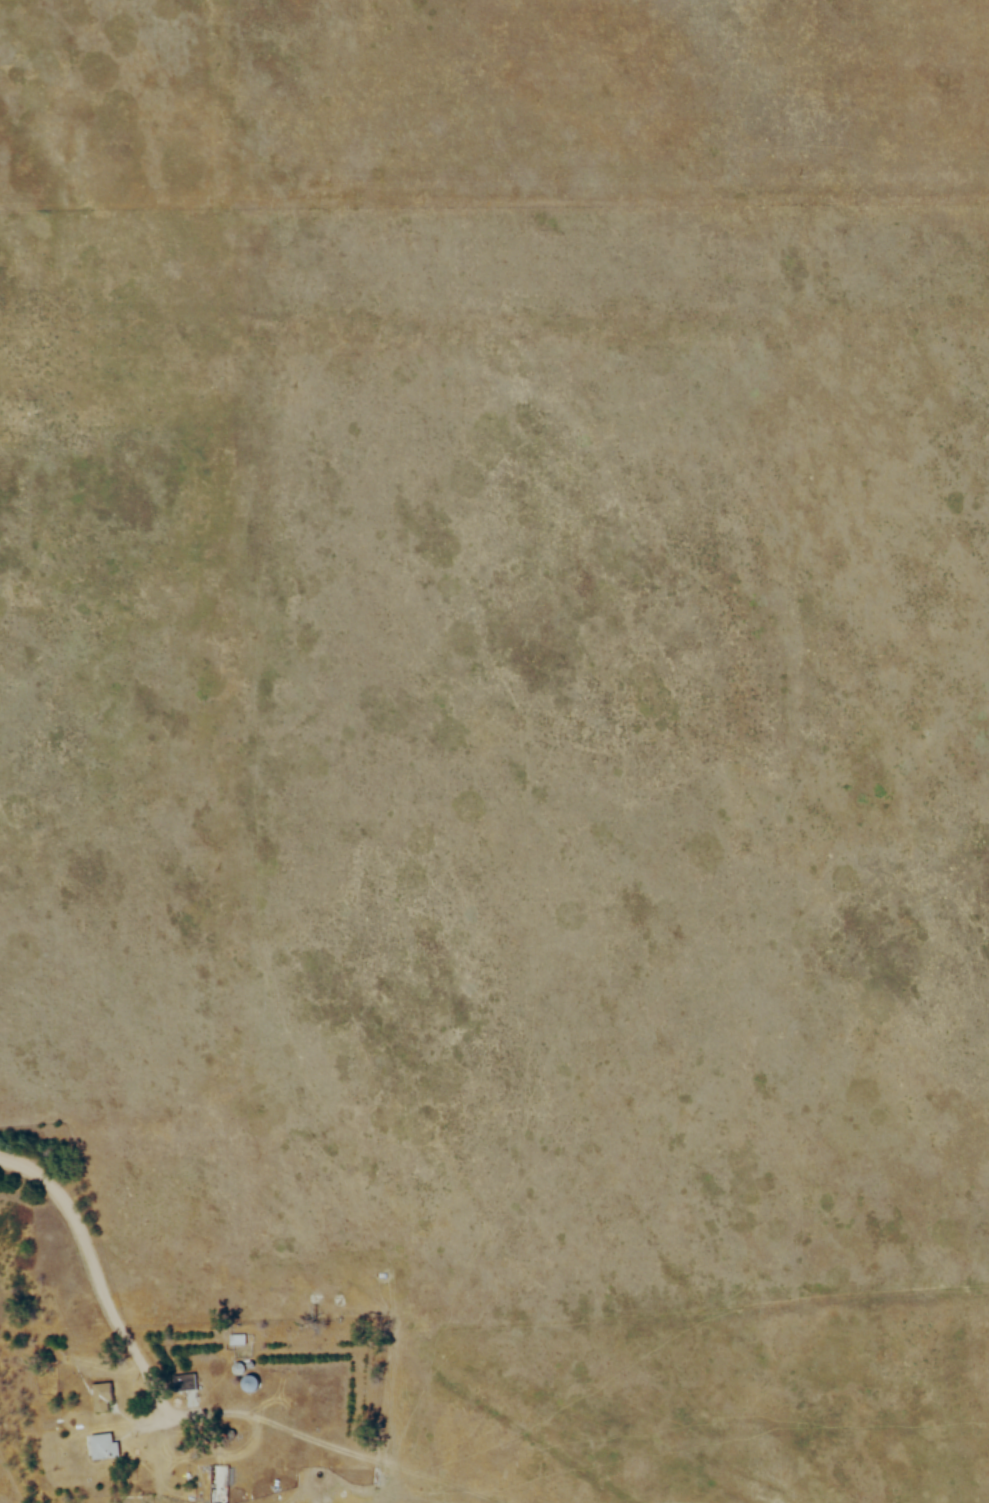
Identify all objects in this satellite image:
building: (238, 1337)
building: (238, 1367)
silo: (238, 1367)
building: (251, 1382)
silo: (251, 1382)
building: (175, 1384)
building: (101, 1394)
road: (152, 1414)
building: (105, 1445)

